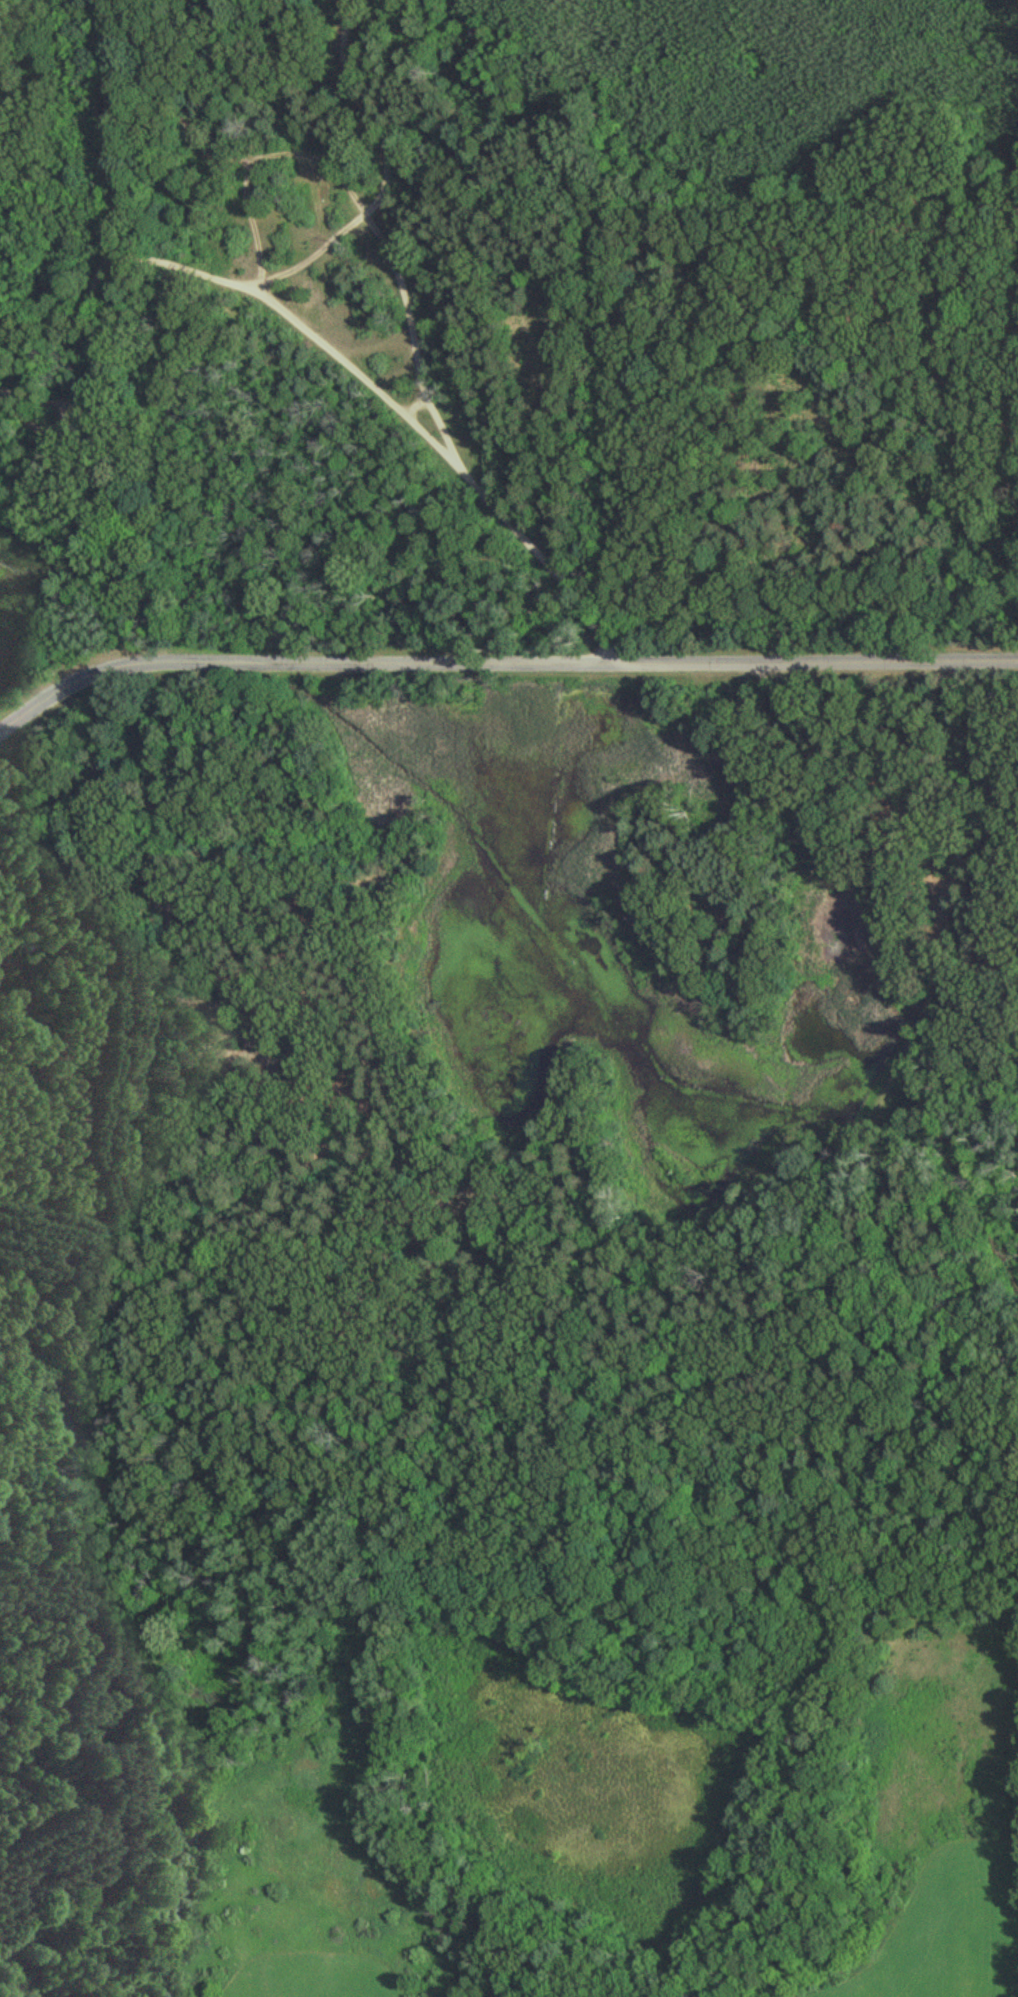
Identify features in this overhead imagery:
road: (318, 253)
road: (96, 363)
road: (434, 416)
road: (536, 552)
road: (500, 659)
crop: (944, 1930)
crop: (304, 1976)

